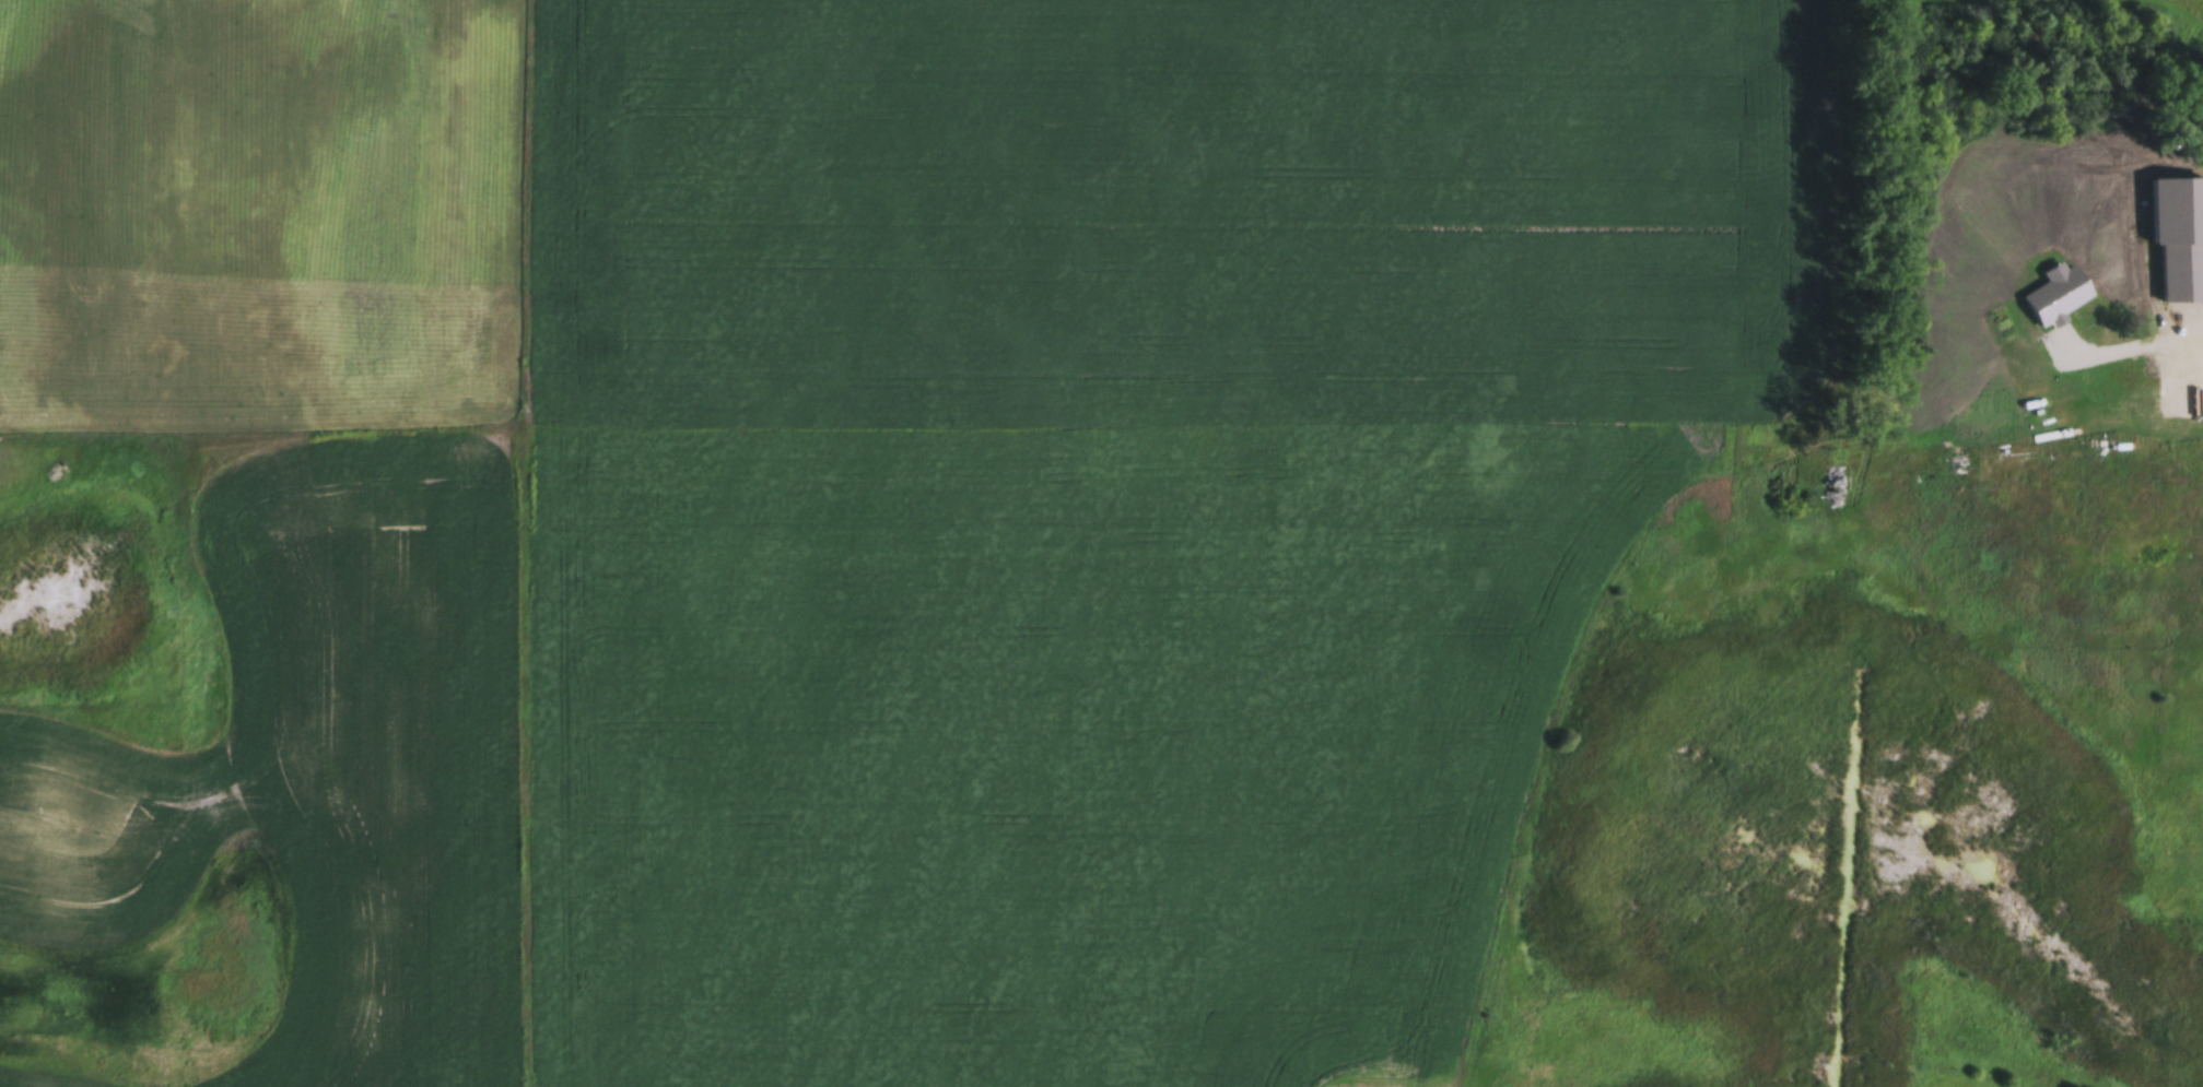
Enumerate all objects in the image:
building: (2167, 273)
road: (2201, 332)

